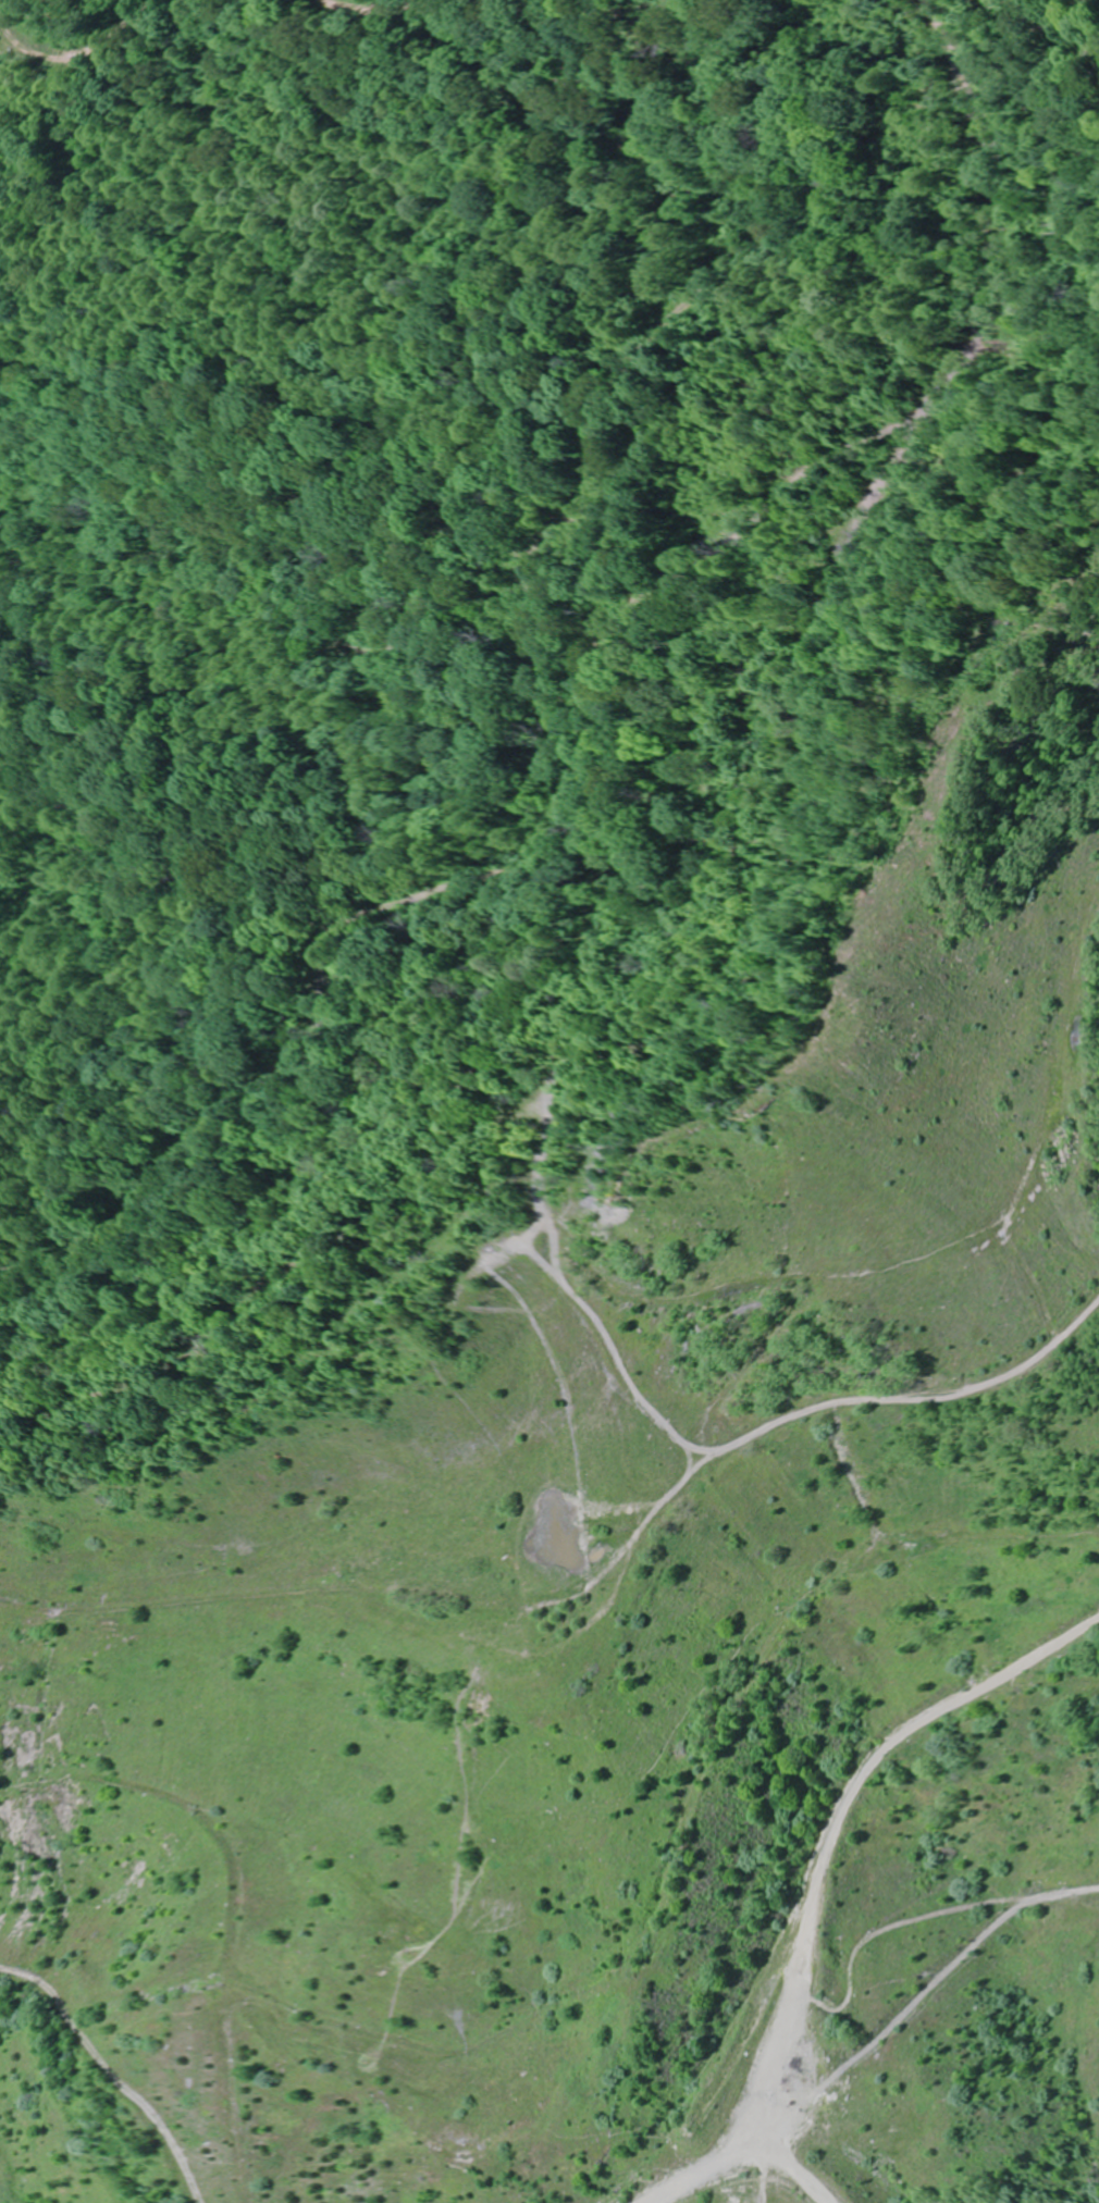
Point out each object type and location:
road: (106, 980)
road: (829, 1885)
road: (838, 2165)

